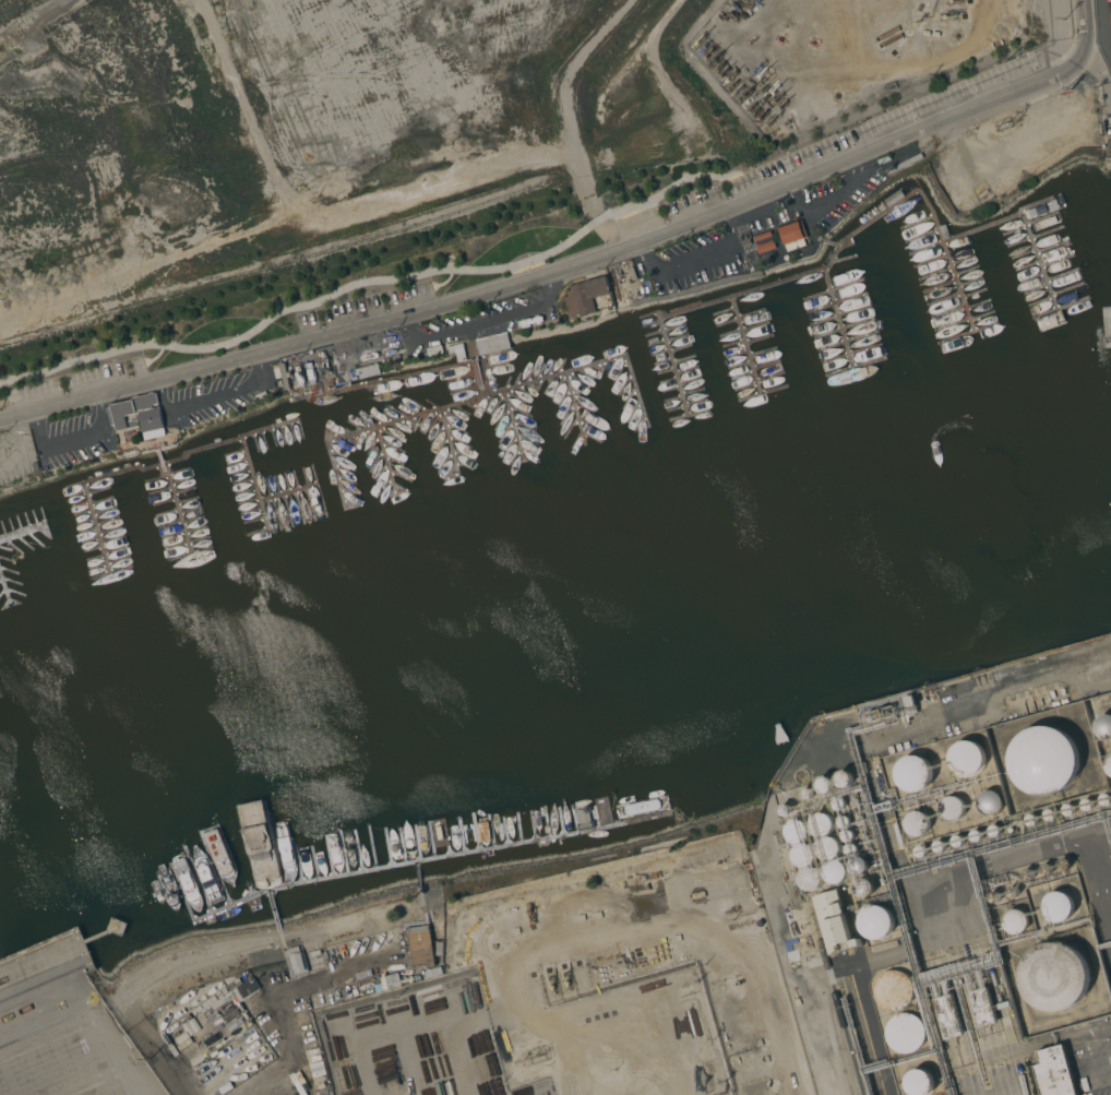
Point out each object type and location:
petroleum well: (743, 0)
petroleum well: (736, 9)
petroleum well: (729, 15)
petroleum well: (948, 16)
road: (1086, 16)
building: (925, 33)
building: (935, 34)
petroleum well: (698, 40)
petroleum well: (702, 47)
petroleum well: (708, 53)
petroleum well: (713, 60)
petroleum well: (720, 66)
petroleum well: (756, 68)
petroleum well: (725, 71)
petroleum well: (762, 73)
petroleum well: (729, 76)
petroleum well: (733, 83)
petroleum well: (738, 90)
petroleum well: (774, 90)
petroleum well: (743, 95)
petroleum well: (777, 97)
petroleum well: (748, 100)
petroleum well: (780, 103)
petroleum well: (752, 106)
petroleum well: (757, 109)
petroleum well: (762, 114)
petroleum well: (769, 121)
pier: (1026, 222)
building: (762, 236)
building: (792, 236)
building: (765, 247)
road: (696, 259)
road: (564, 269)
pier: (827, 269)
building: (585, 296)
pier: (839, 318)
building: (1109, 324)
building: (492, 344)
pier: (746, 345)
building: (434, 350)
building: (458, 352)
building: (368, 371)
road: (212, 396)
pier: (480, 396)
pier: (576, 407)
building: (129, 410)
building: (152, 421)
pier: (514, 425)
pier: (449, 440)
pier: (387, 460)
pier: (148, 467)
pier: (255, 484)
pier: (287, 495)
pier: (174, 501)
pier: (50, 528)
pier: (5, 588)
building: (886, 709)
building: (1103, 727)
building: (966, 758)
building: (1042, 761)
building: (1108, 765)
building: (910, 775)
building: (843, 778)
building: (823, 784)
building: (989, 802)
building: (952, 809)
building: (916, 823)
building: (821, 824)
building: (798, 832)
building: (828, 848)
building: (803, 856)
building: (857, 866)
building: (835, 871)
building: (811, 879)
building: (863, 886)
building: (1058, 907)
petroleum well: (529, 910)
building: (1015, 921)
building: (834, 923)
building: (876, 923)
building: (420, 945)
road: (207, 956)
building: (297, 961)
building: (1056, 977)
building: (370, 987)
building: (246, 990)
building: (893, 990)
railway: (837, 997)
building: (852, 1004)
road: (278, 1005)
building: (981, 1008)
building: (947, 1017)
building: (905, 1033)
railway: (865, 1036)
building: (1053, 1072)
building: (918, 1082)
road: (244, 1094)

